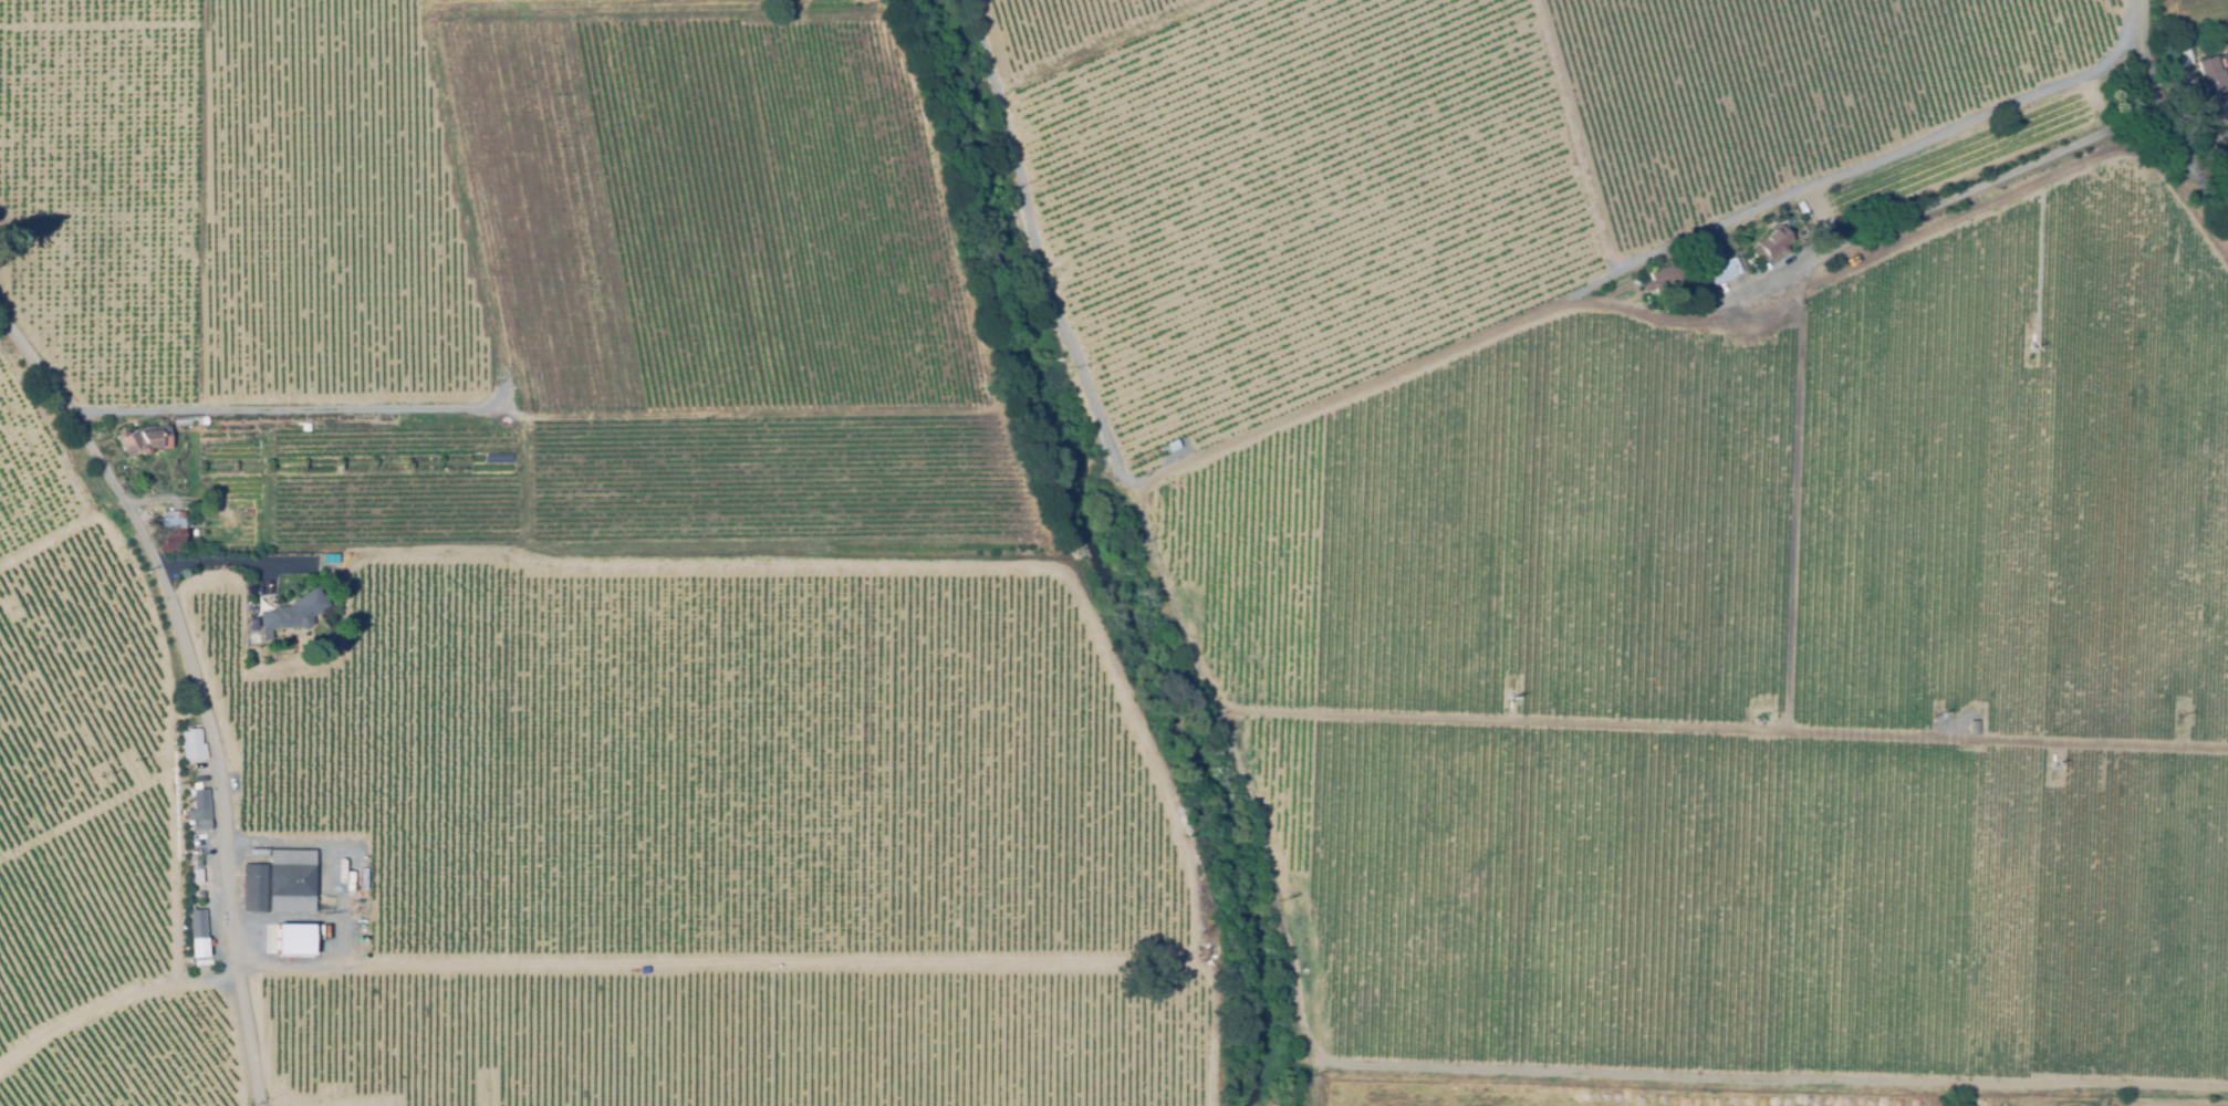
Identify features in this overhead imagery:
building: (2227, 21)
road: (2143, 45)
building: (2183, 55)
building: (2215, 87)
building: (2204, 138)
road: (2183, 149)
road: (1855, 170)
road: (1926, 202)
building: (1772, 244)
building: (1721, 273)
building: (1669, 279)
road: (274, 408)
building: (186, 419)
building: (142, 439)
road: (1178, 467)
road: (191, 508)
building: (170, 534)
road: (227, 562)
building: (258, 601)
building: (295, 611)
road: (198, 686)
building: (1972, 727)
building: (191, 745)
building: (199, 808)
building: (196, 863)
building: (196, 877)
building: (279, 884)
building: (198, 896)
building: (196, 926)
building: (293, 938)

